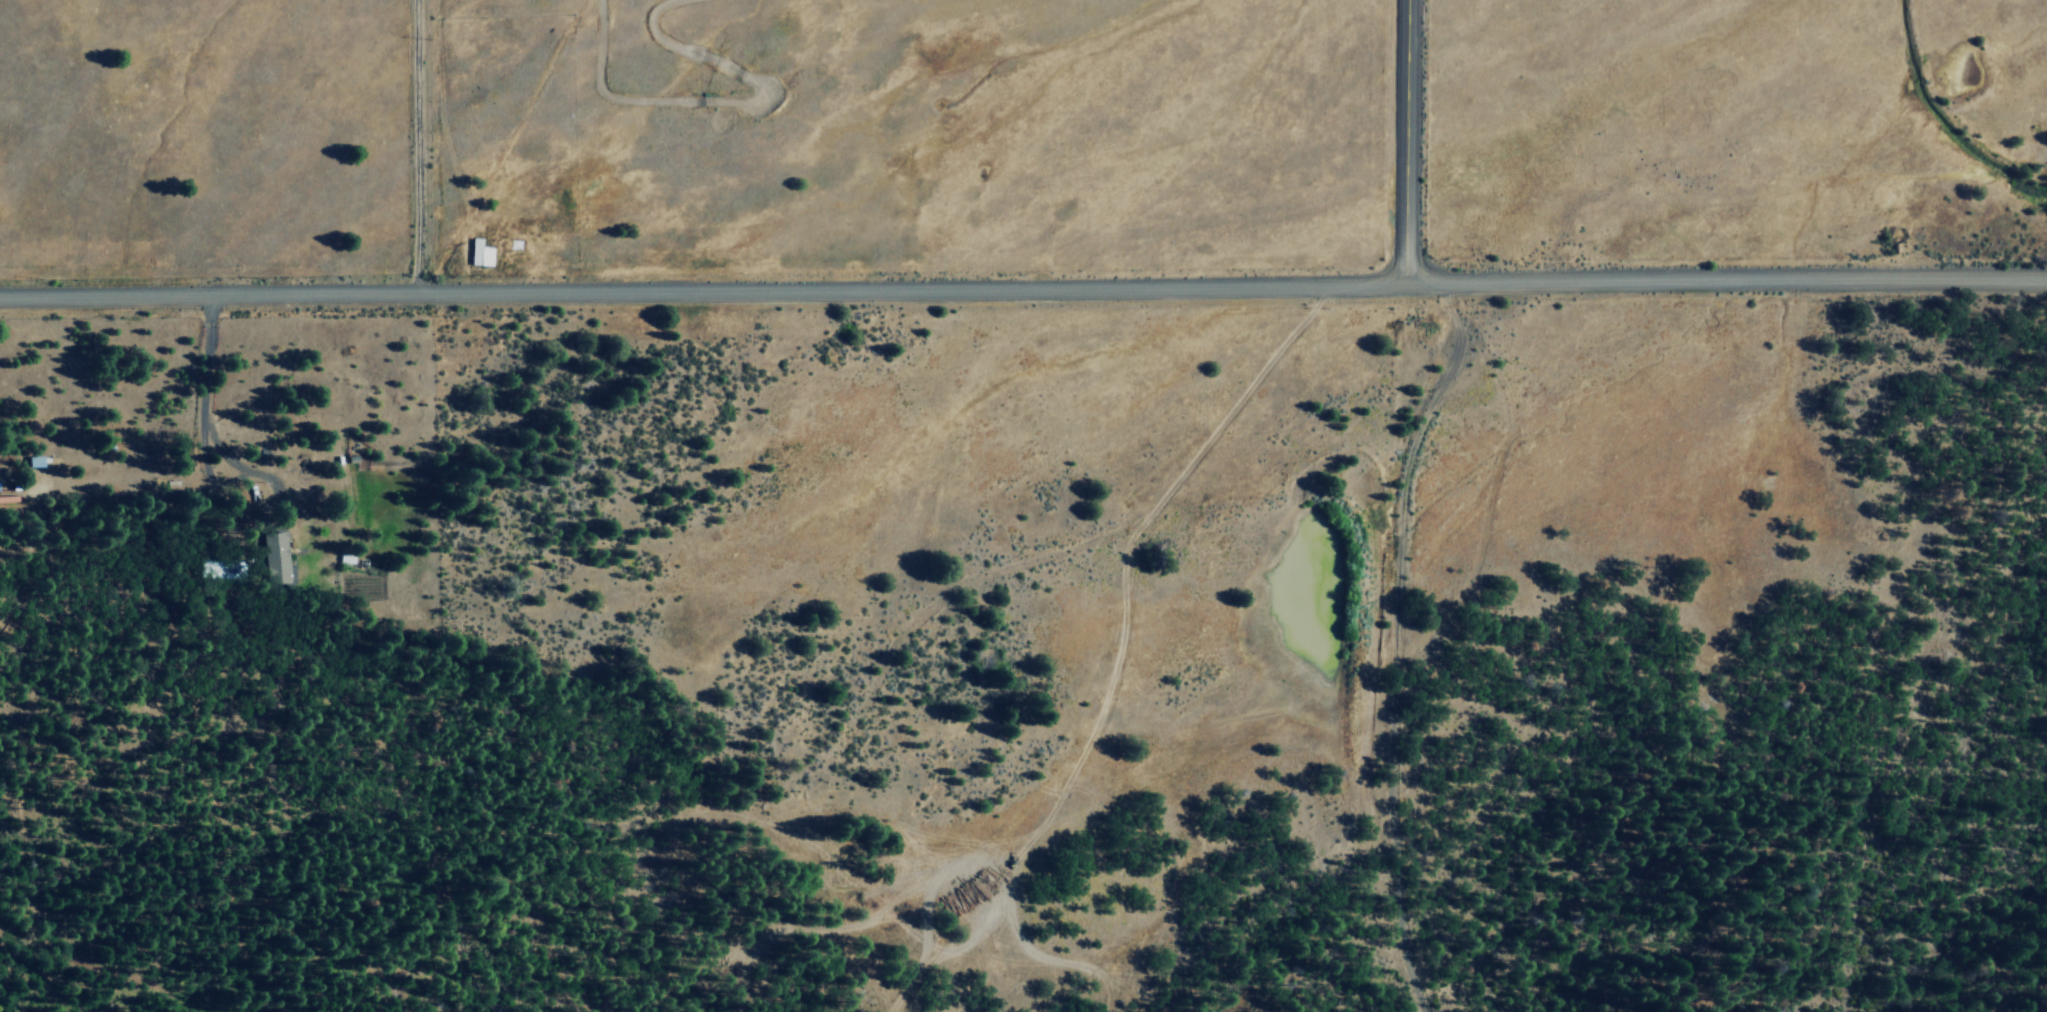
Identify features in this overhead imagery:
road: (1406, 141)
building: (481, 252)
road: (1726, 280)
road: (703, 289)
building: (275, 556)

